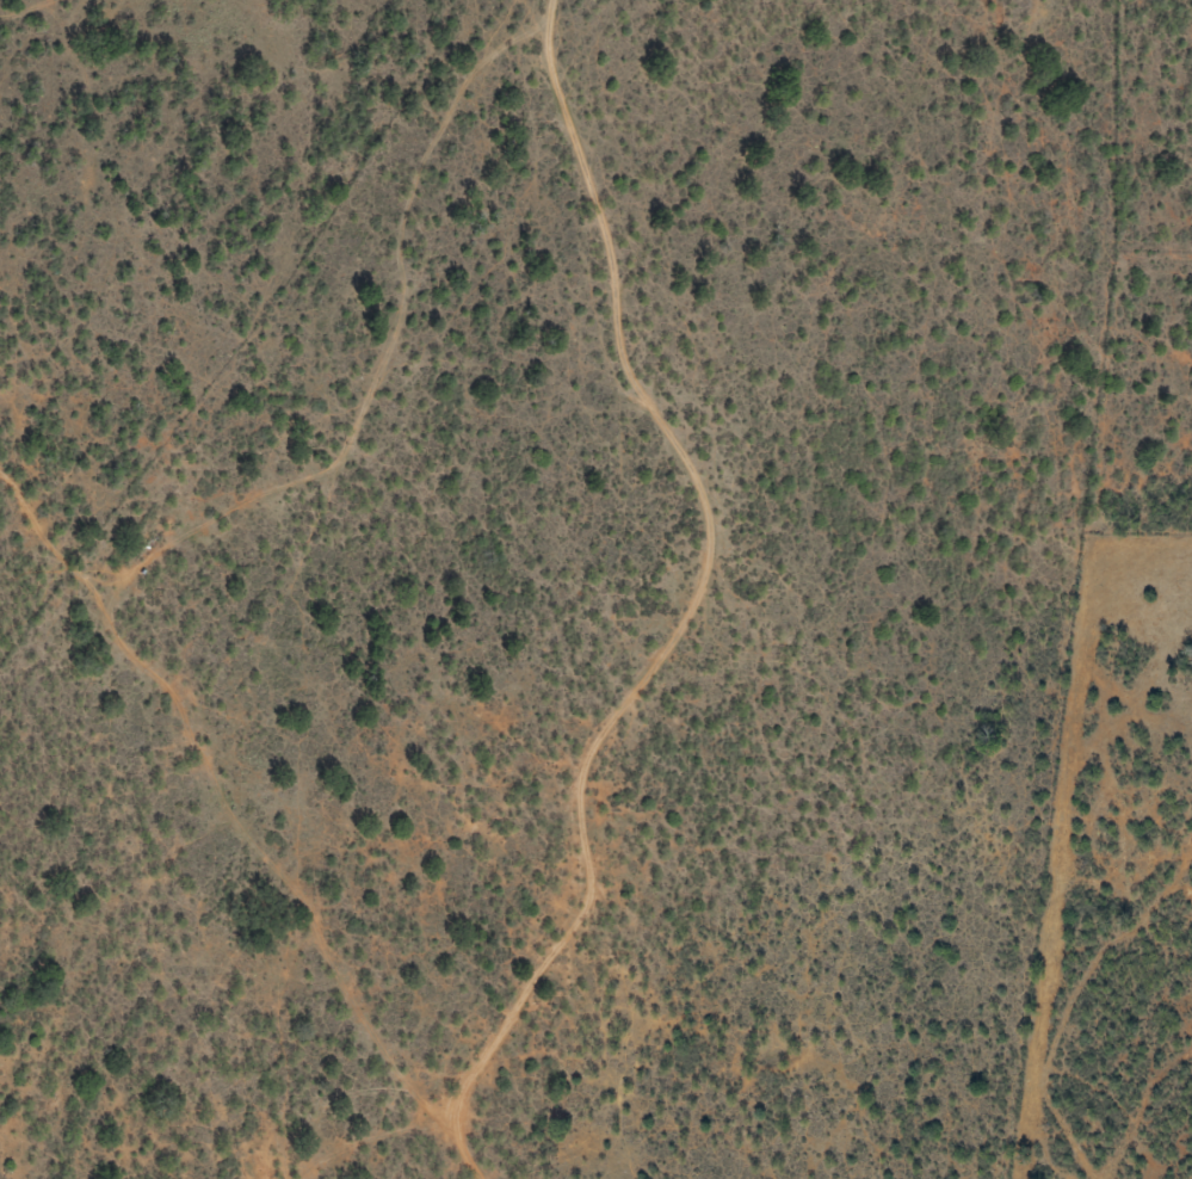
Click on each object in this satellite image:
road: (728, 598)
road: (263, 821)

